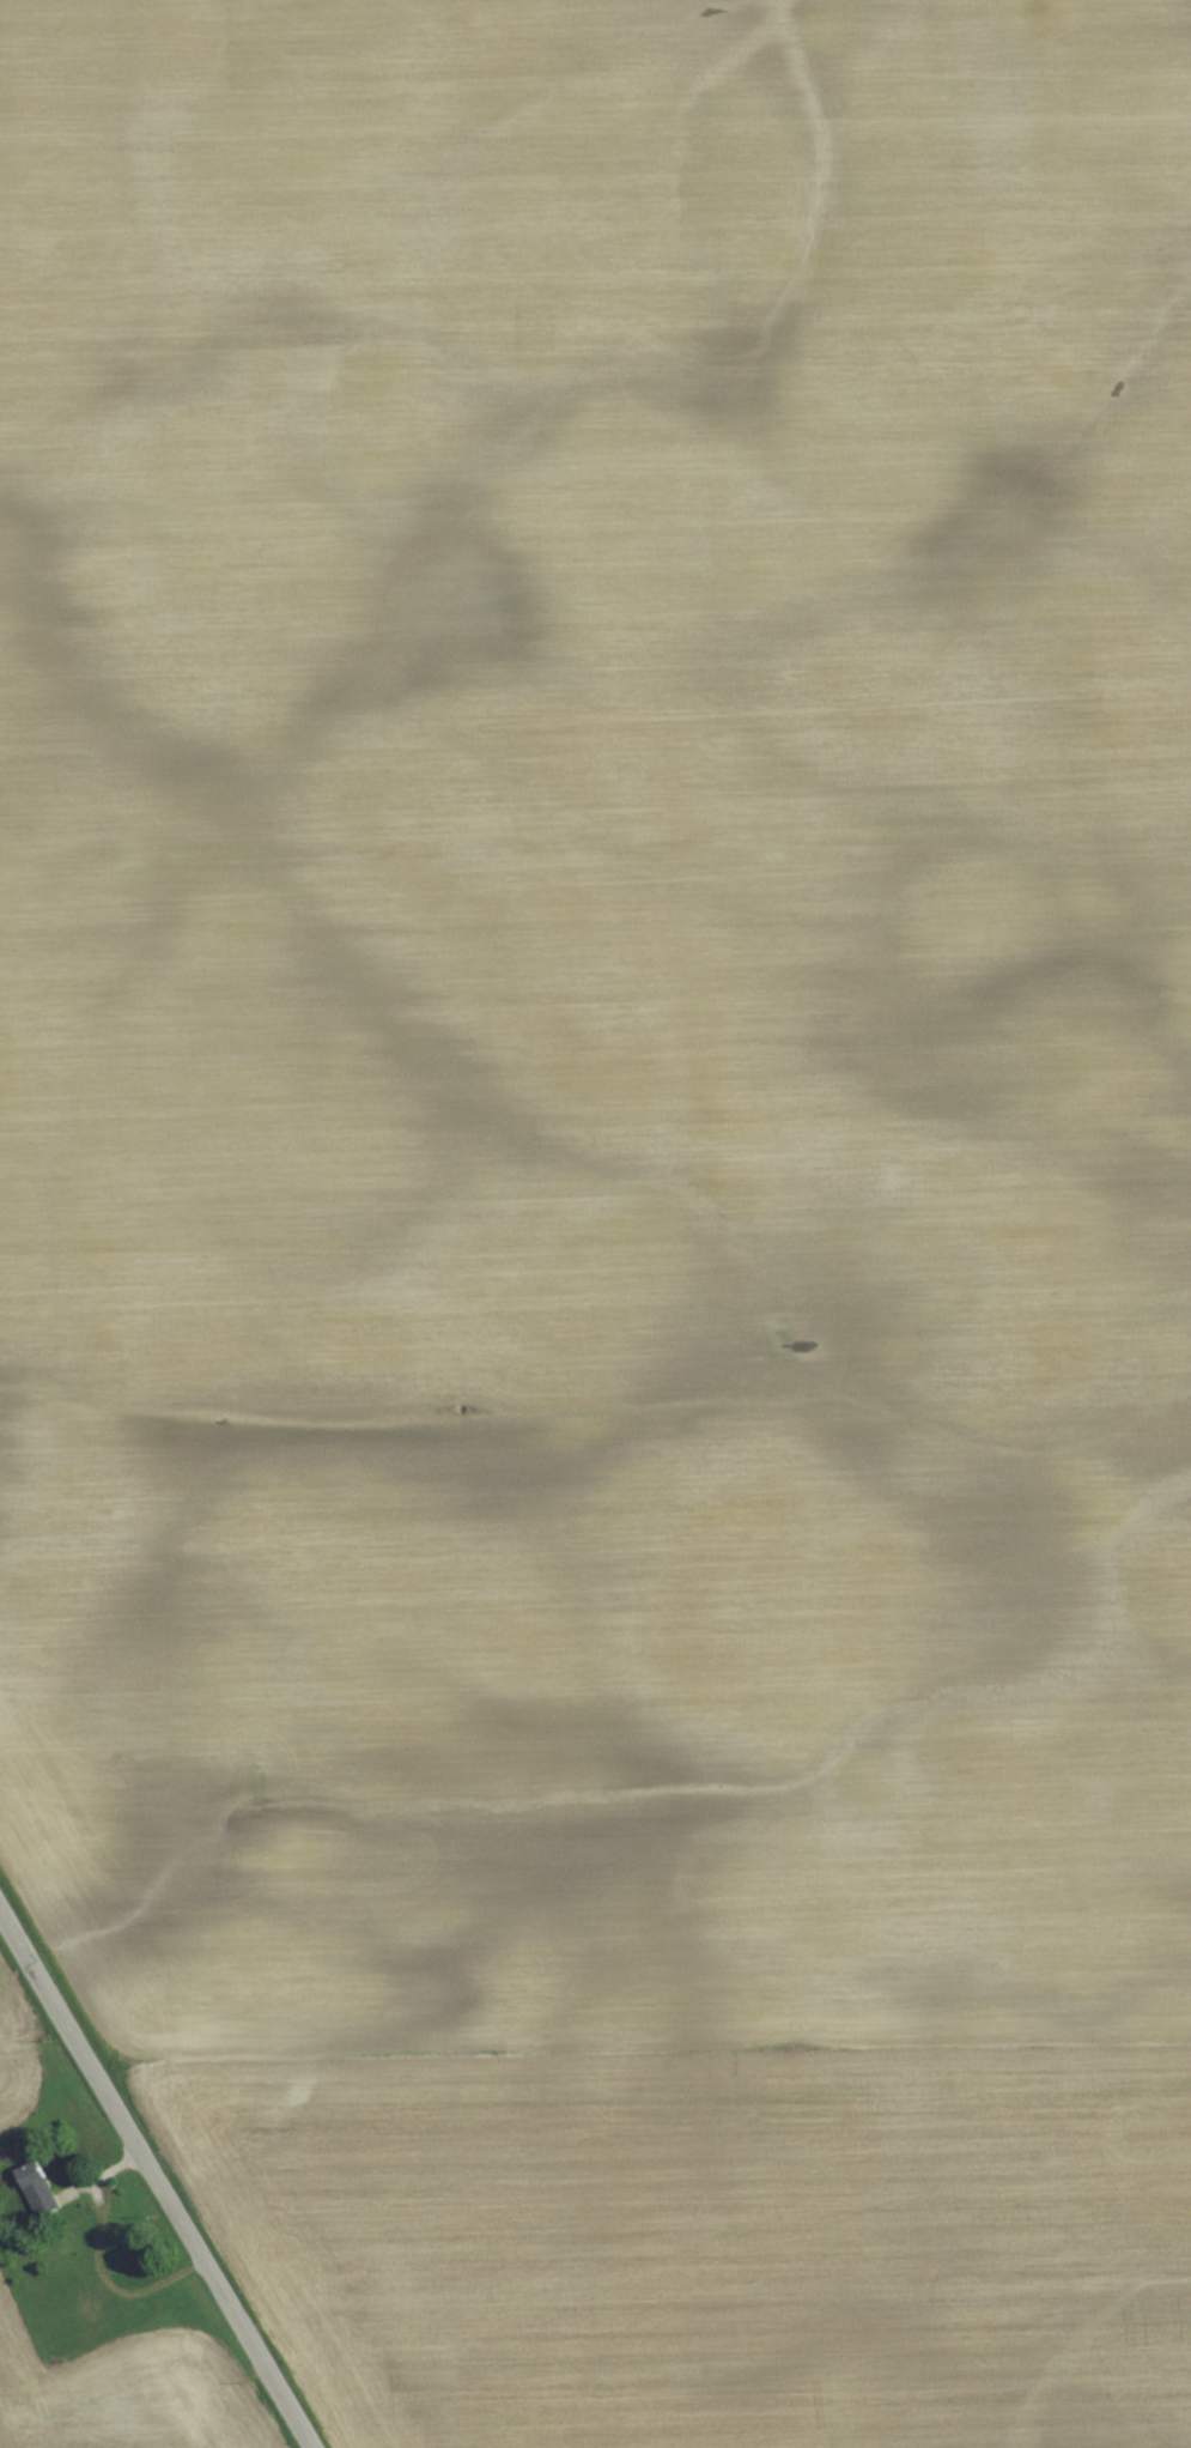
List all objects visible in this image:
road: (153, 2181)
building: (41, 2189)

